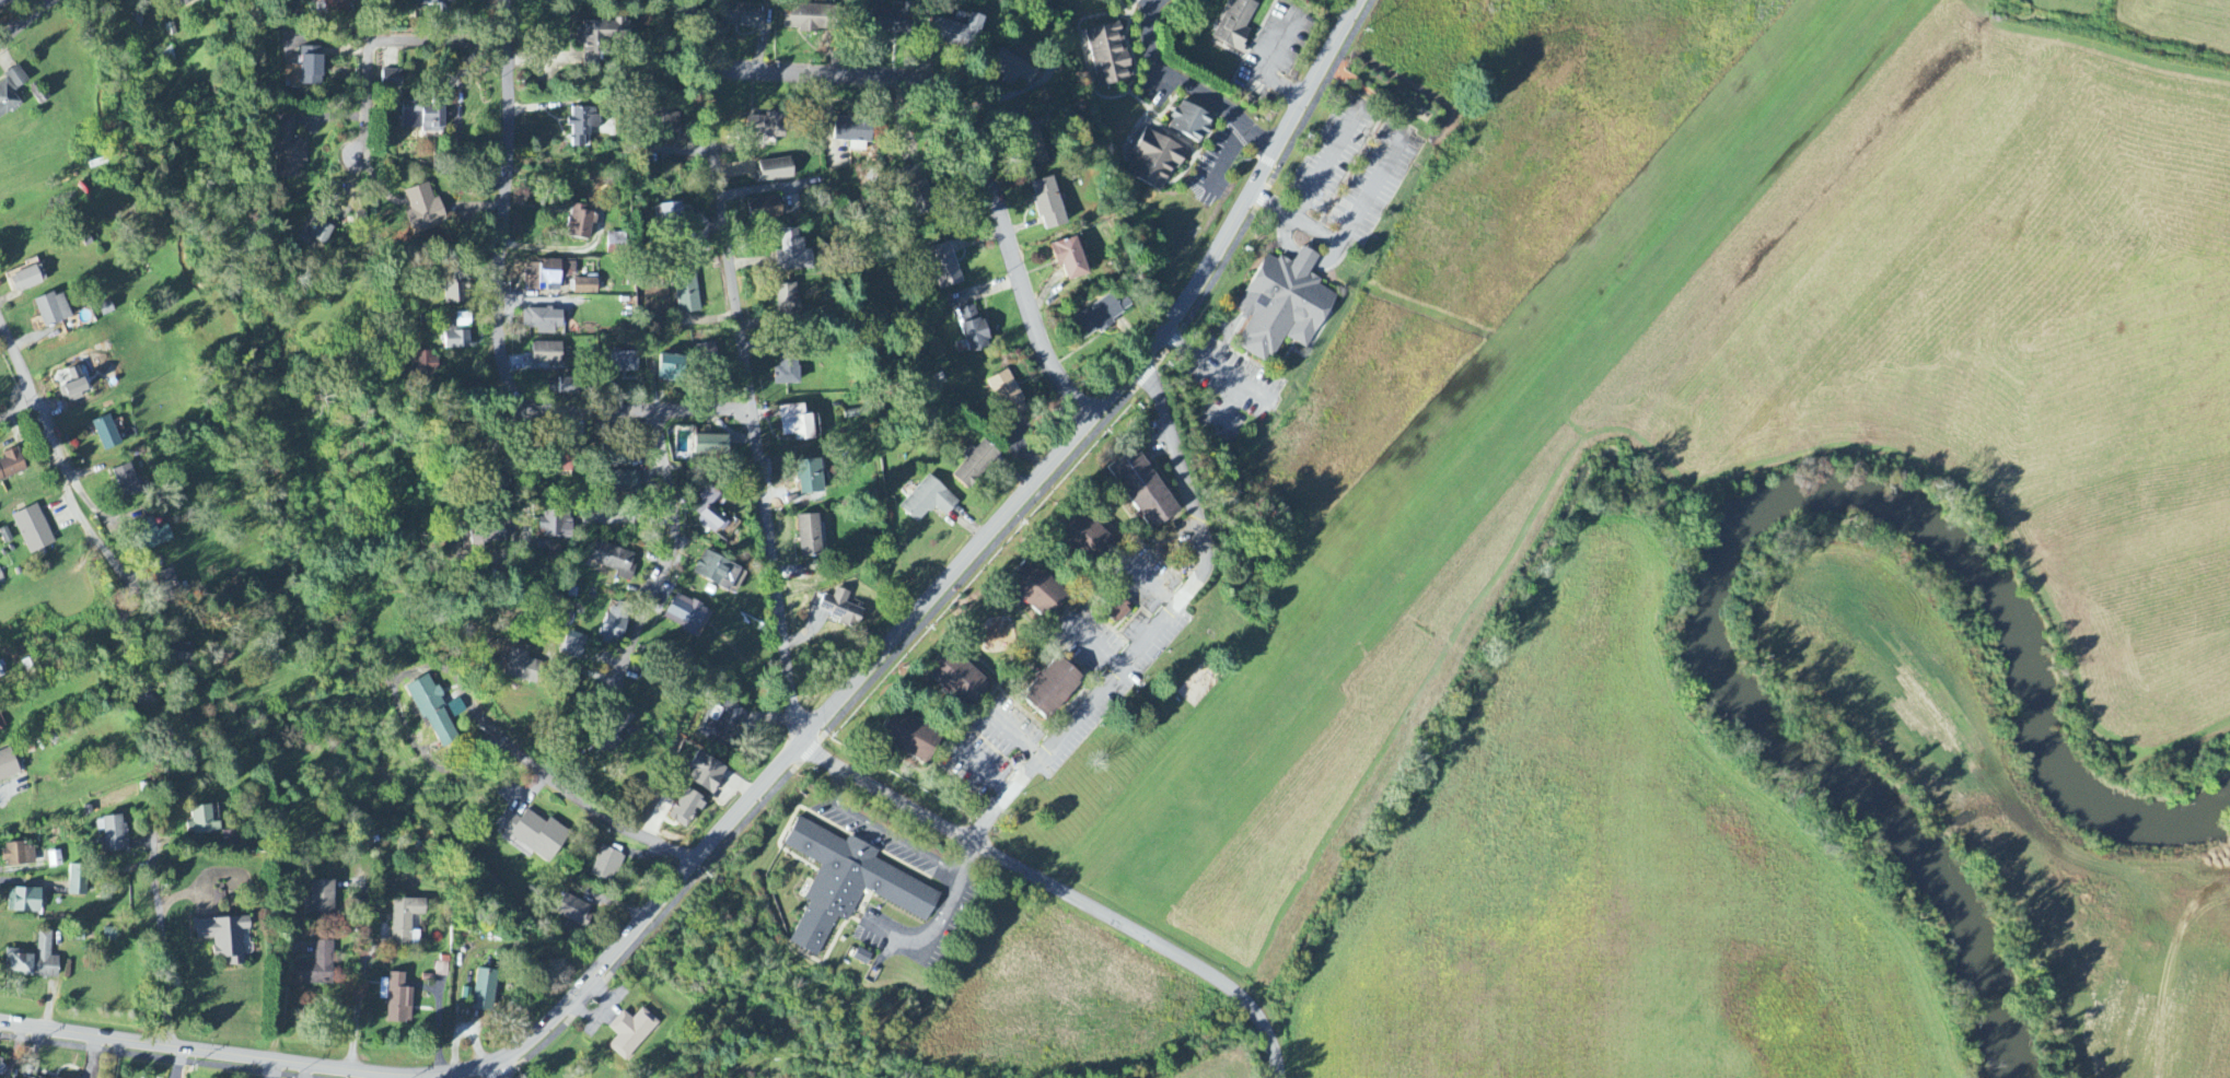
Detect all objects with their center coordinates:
building: (184, 1)
building: (434, 2)
building: (4, 3)
building: (335, 5)
building: (742, 16)
building: (809, 19)
road: (27, 21)
building: (895, 21)
building: (1236, 25)
building: (957, 33)
building: (601, 38)
road: (382, 43)
building: (1108, 56)
building: (310, 67)
building: (1017, 71)
building: (392, 80)
road: (1189, 85)
building: (11, 91)
building: (422, 118)
building: (1191, 122)
building: (582, 126)
building: (766, 127)
building: (853, 133)
building: (1033, 144)
building: (287, 148)
road: (963, 148)
building: (1154, 161)
building: (775, 171)
building: (919, 199)
building: (1048, 204)
building: (423, 209)
building: (764, 210)
building: (671, 221)
building: (580, 222)
building: (315, 232)
building: (616, 239)
building: (792, 254)
building: (1069, 259)
building: (944, 267)
building: (547, 276)
building: (27, 280)
building: (585, 288)
building: (455, 290)
building: (687, 291)
building: (788, 303)
building: (1282, 306)
building: (53, 310)
building: (1101, 316)
road: (498, 318)
building: (543, 321)
building: (972, 329)
building: (457, 333)
building: (711, 352)
building: (546, 354)
building: (622, 363)
building: (421, 366)
building: (788, 368)
building: (670, 370)
road: (745, 371)
building: (562, 388)
building: (1006, 391)
road: (15, 412)
building: (795, 424)
building: (106, 434)
building: (711, 446)
airport runway: (1506, 448)
building: (976, 465)
building: (11, 466)
building: (560, 467)
road: (60, 472)
road: (530, 472)
building: (810, 478)
building: (126, 482)
building: (619, 482)
building: (1143, 491)
building: (928, 502)
building: (709, 513)
building: (556, 525)
building: (33, 530)
building: (489, 535)
building: (152, 536)
building: (809, 537)
building: (1088, 539)
road: (667, 548)
building: (614, 561)
road: (976, 570)
building: (718, 573)
building: (1, 579)
building: (167, 584)
building: (1036, 590)
building: (841, 610)
building: (1119, 612)
building: (685, 616)
road: (1160, 624)
river: (2007, 628)
building: (613, 629)
building: (572, 651)
building: (184, 655)
building: (522, 668)
building: (1, 673)
building: (959, 680)
building: (1053, 690)
building: (146, 698)
building: (432, 713)
building: (1, 725)
building: (722, 726)
building: (612, 734)
building: (910, 737)
road: (797, 747)
building: (8, 766)
building: (707, 775)
road: (560, 786)
river: (1849, 798)
building: (686, 809)
building: (201, 822)
road: (882, 829)
building: (533, 834)
building: (112, 835)
building: (230, 839)
road: (963, 855)
building: (19, 856)
building: (606, 866)
building: (77, 882)
building: (848, 886)
road: (1060, 891)
building: (322, 900)
building: (23, 902)
building: (573, 912)
building: (406, 922)
road: (161, 940)
building: (223, 940)
building: (45, 959)
building: (18, 965)
building: (317, 966)
building: (442, 968)
building: (484, 992)
building: (398, 1001)
road: (283, 1004)
road: (360, 1017)
building: (630, 1034)
road: (150, 1056)
road: (500, 1071)
building: (24, 1077)

